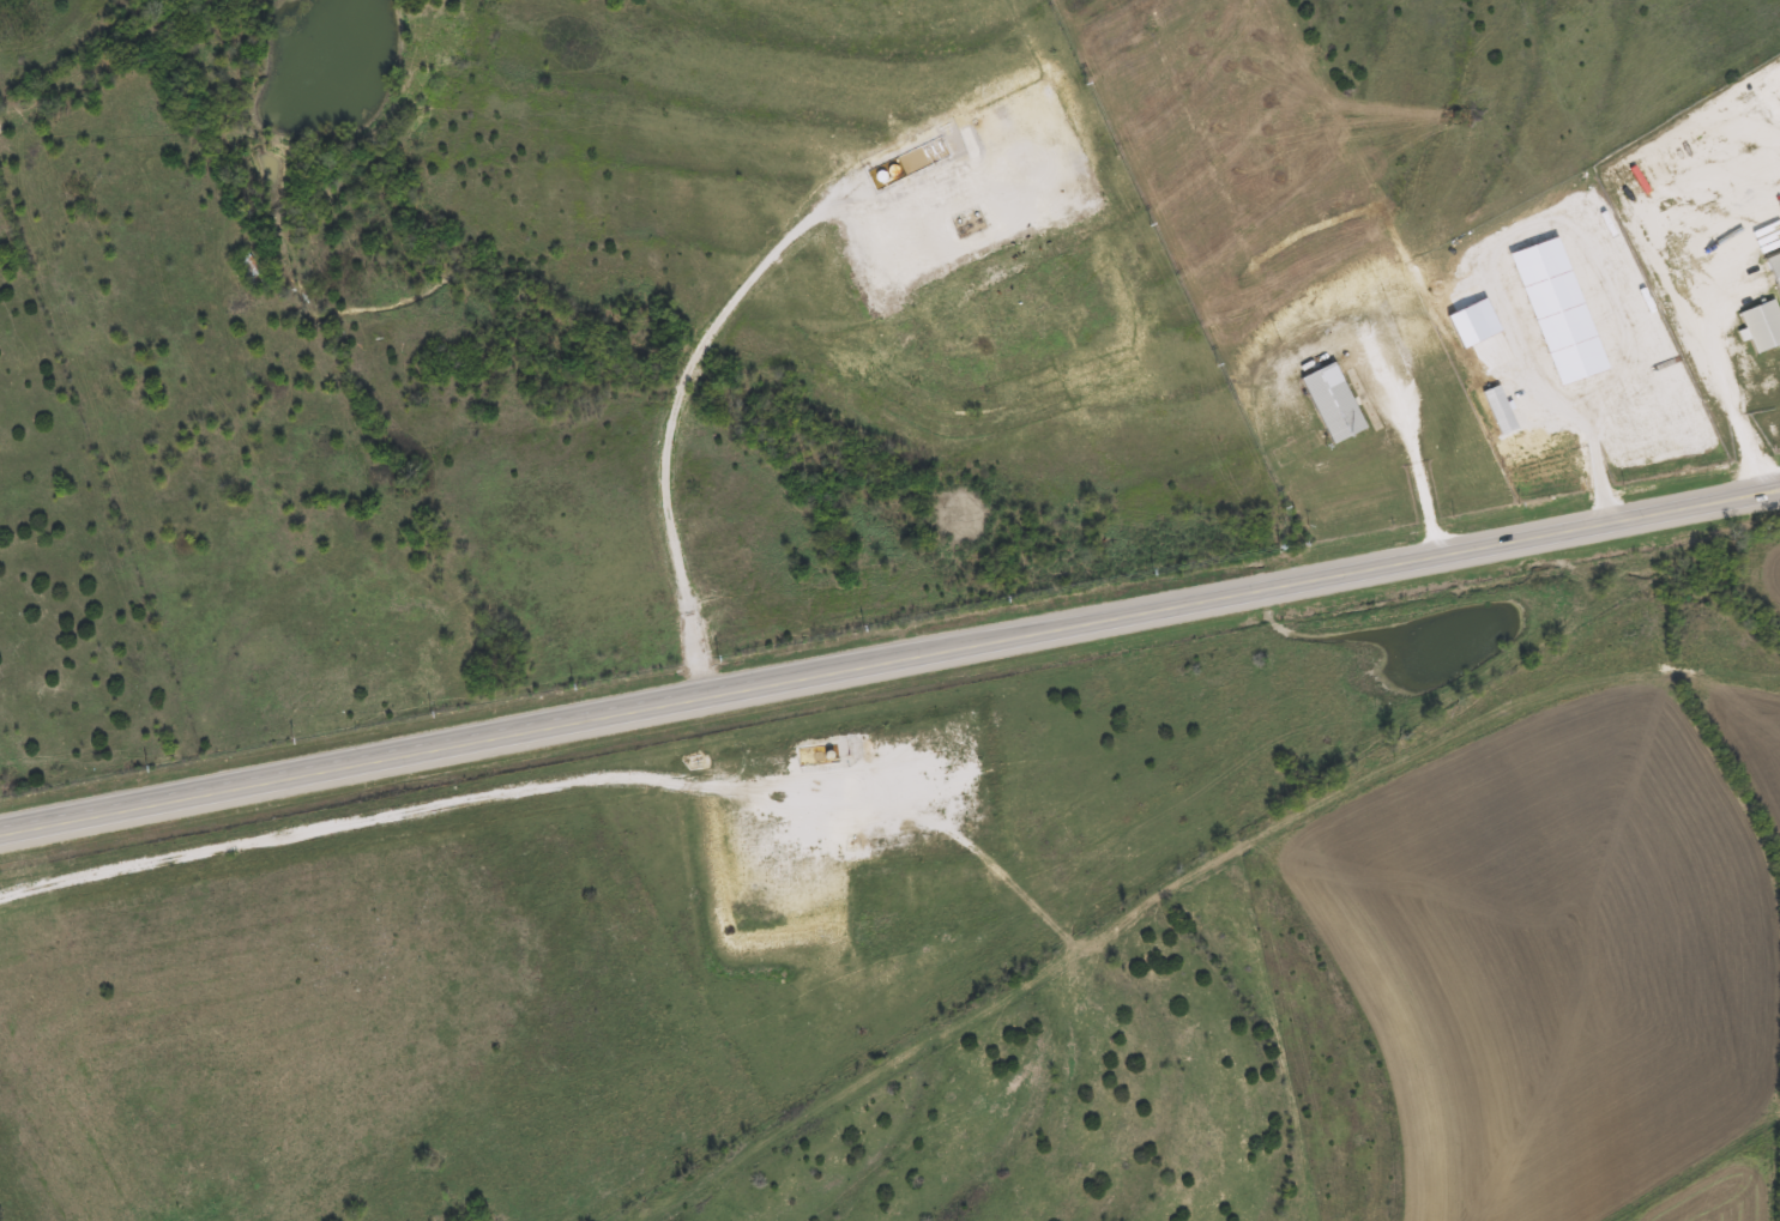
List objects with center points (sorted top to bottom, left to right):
building: (1773, 271)
building: (1562, 313)
building: (1761, 325)
road: (1703, 346)
building: (1329, 401)
road: (666, 427)
road: (1585, 436)
road: (889, 664)

